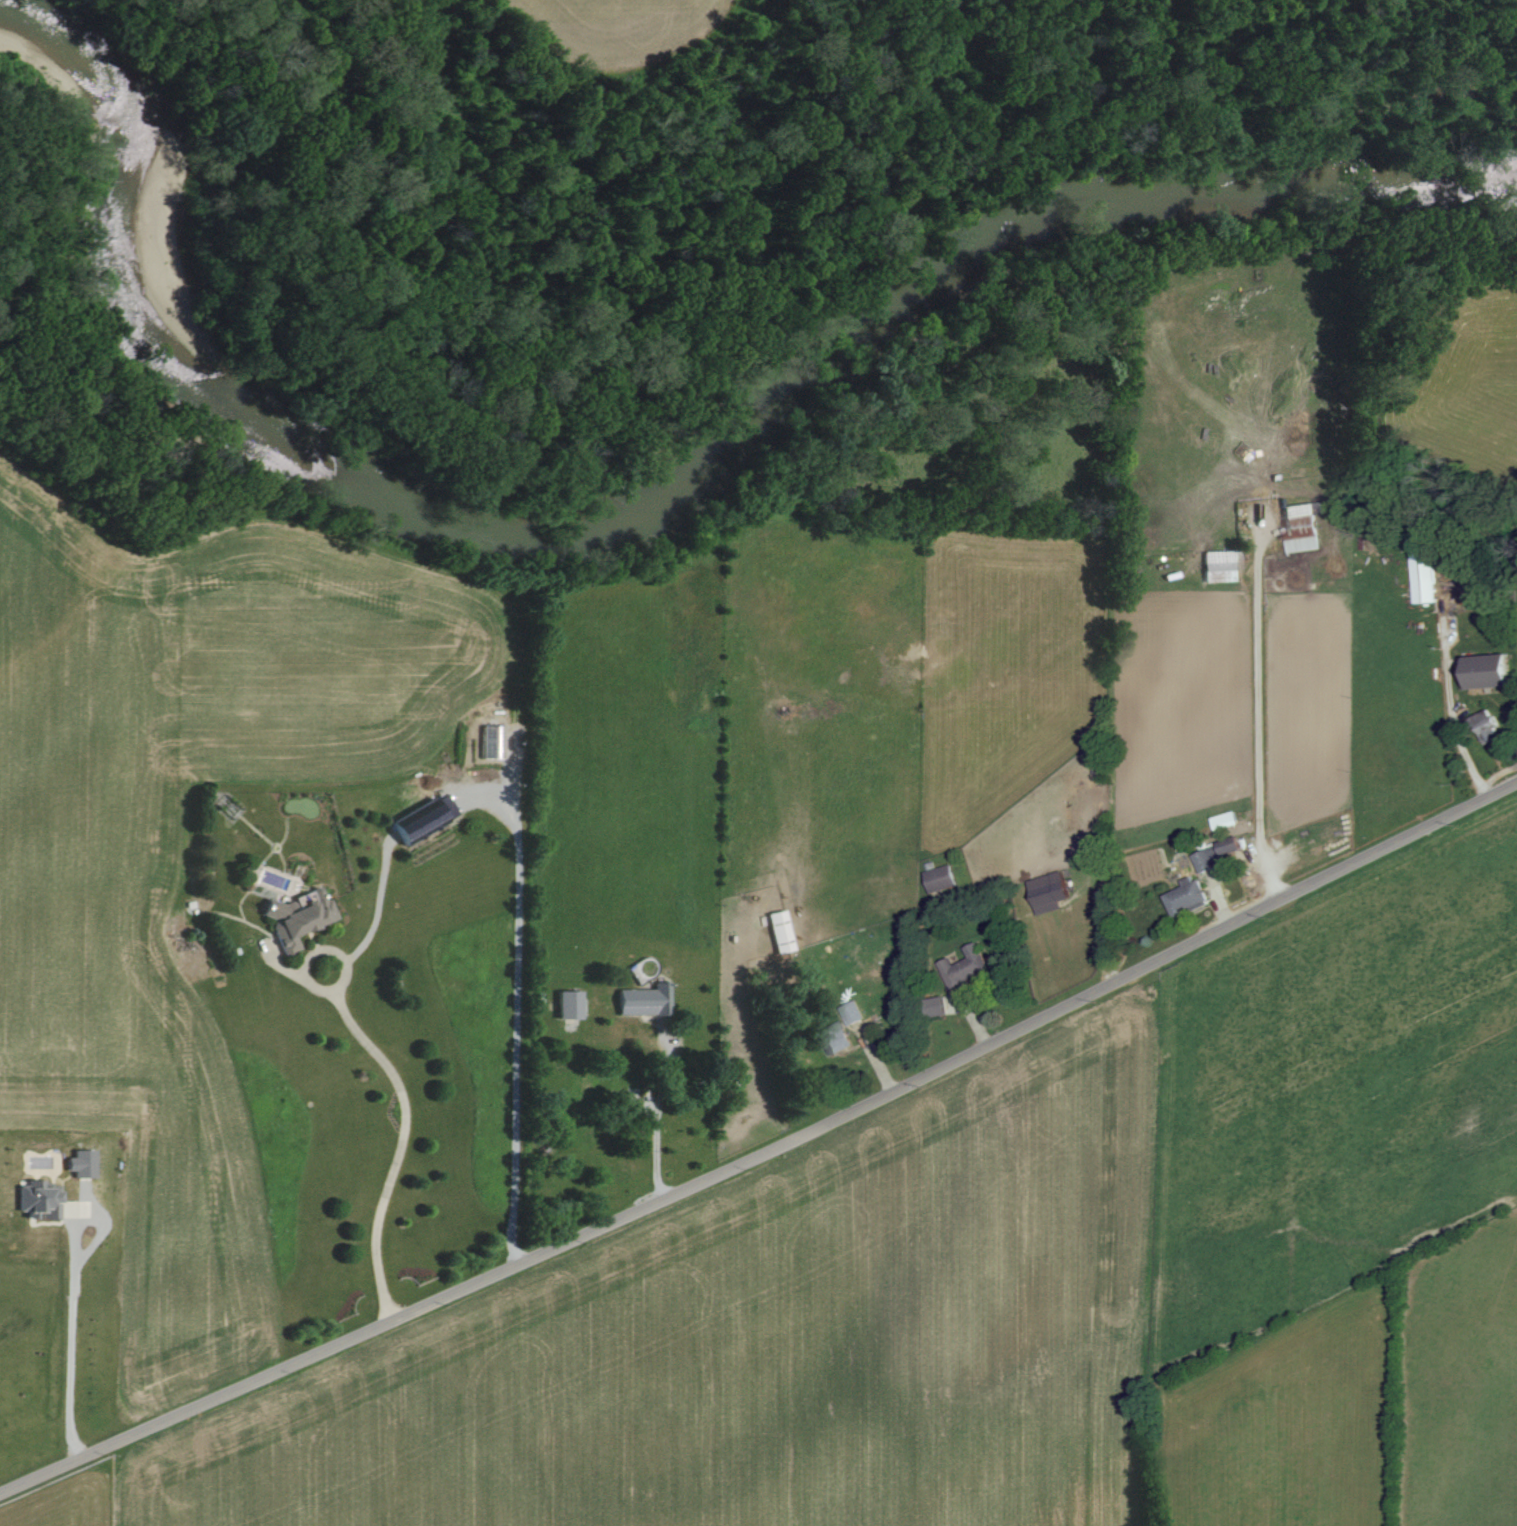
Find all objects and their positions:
river: (669, 498)
building: (1299, 527)
building: (1220, 565)
building: (1421, 572)
building: (1484, 671)
road: (1256, 722)
building: (1484, 726)
road: (1460, 732)
building: (490, 741)
building: (1224, 819)
building: (1214, 853)
building: (939, 878)
building: (1047, 892)
building: (1186, 897)
road: (377, 907)
building: (295, 916)
building: (778, 931)
building: (963, 966)
road: (311, 986)
building: (642, 1000)
road: (516, 1004)
building: (567, 1004)
building: (934, 1006)
building: (850, 1012)
building: (833, 1038)
road: (658, 1111)
road: (401, 1143)
road: (765, 1152)
building: (79, 1163)
building: (37, 1199)
road: (69, 1336)

